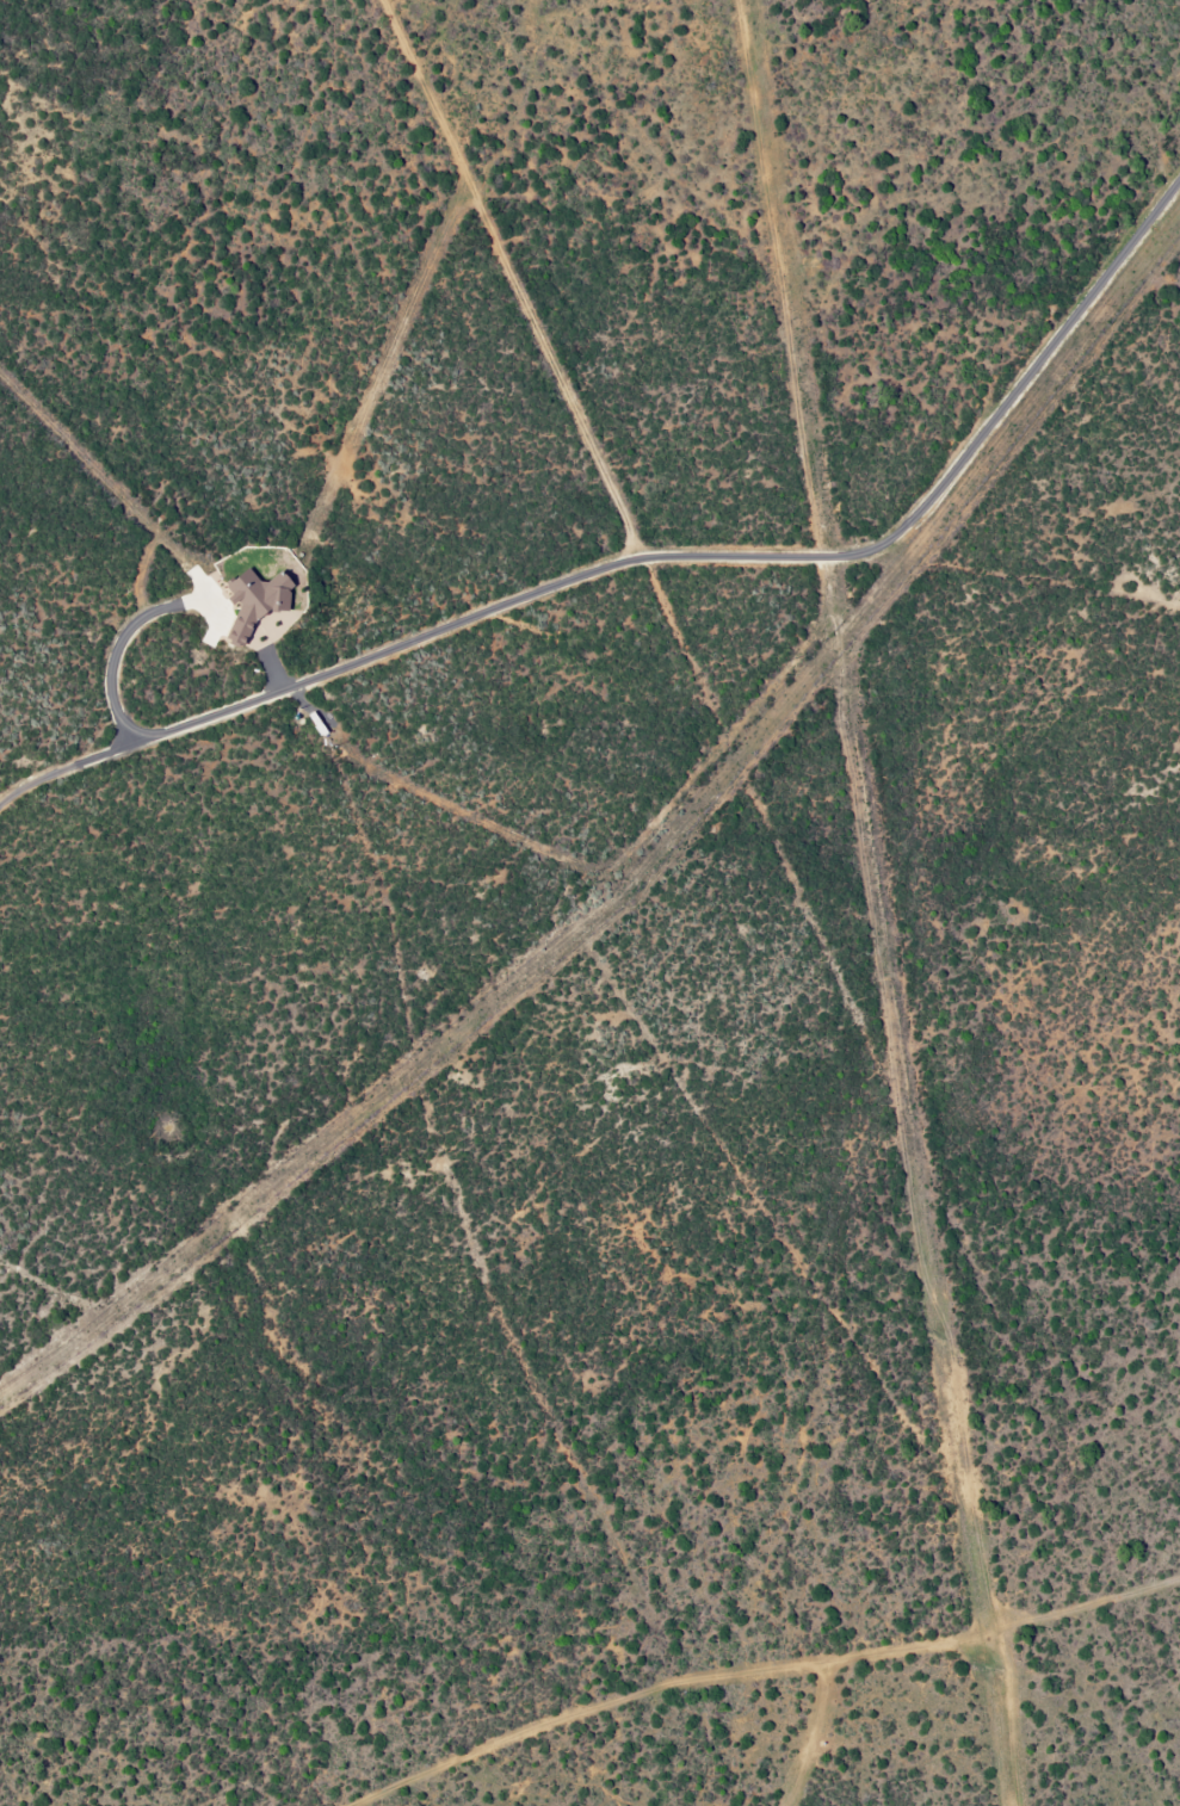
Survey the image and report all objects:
road: (746, 551)

